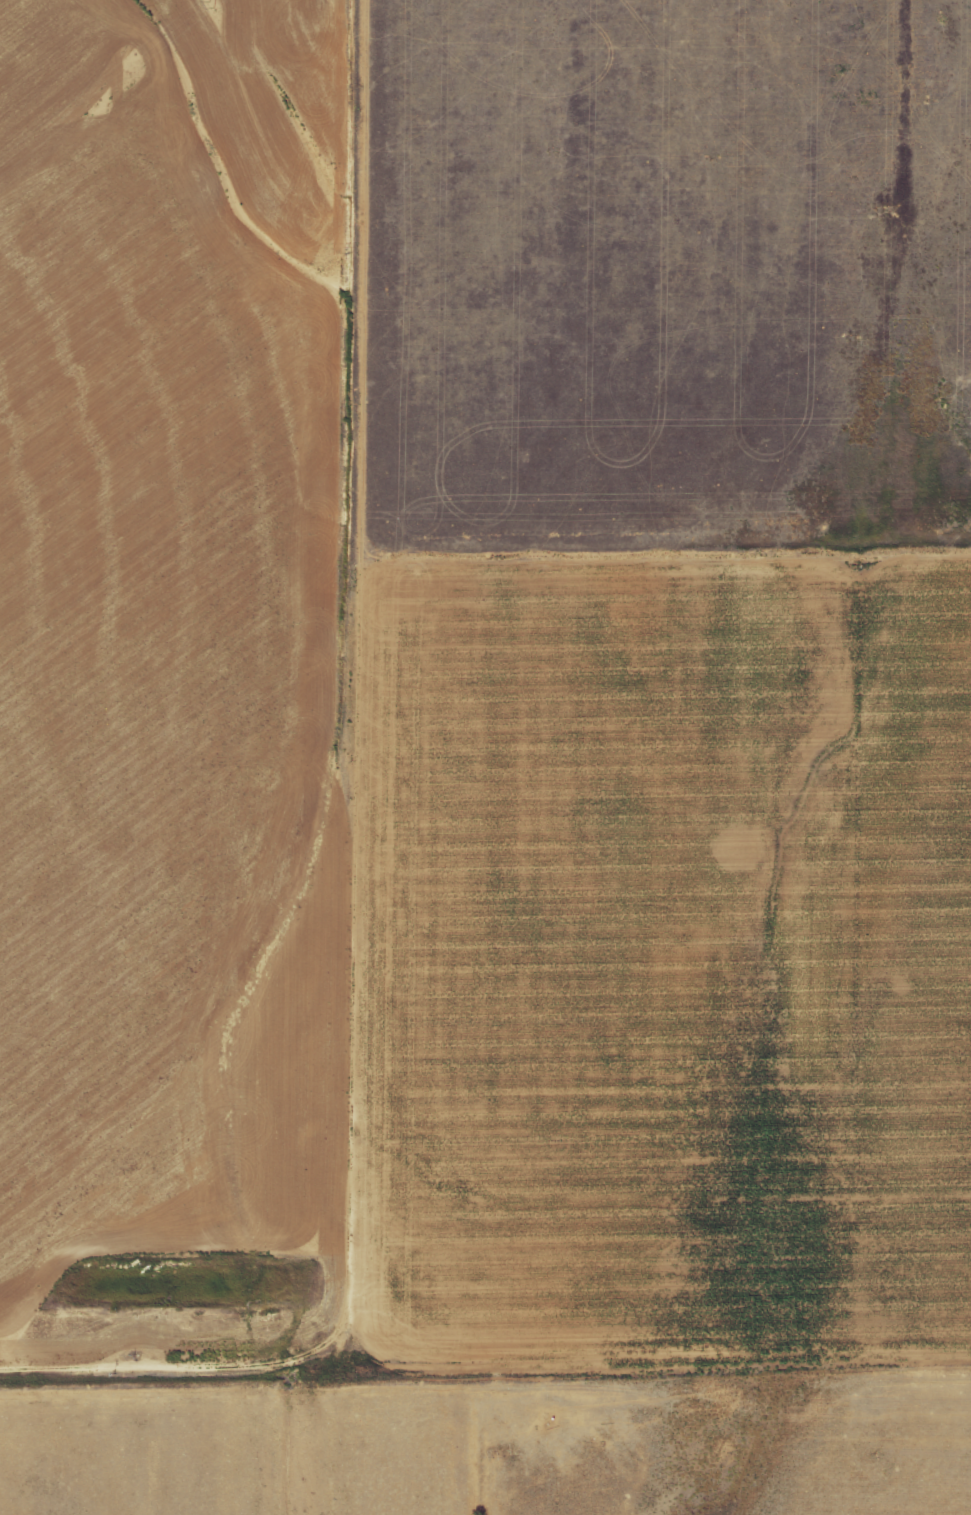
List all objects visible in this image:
power tower: (211, 4)

